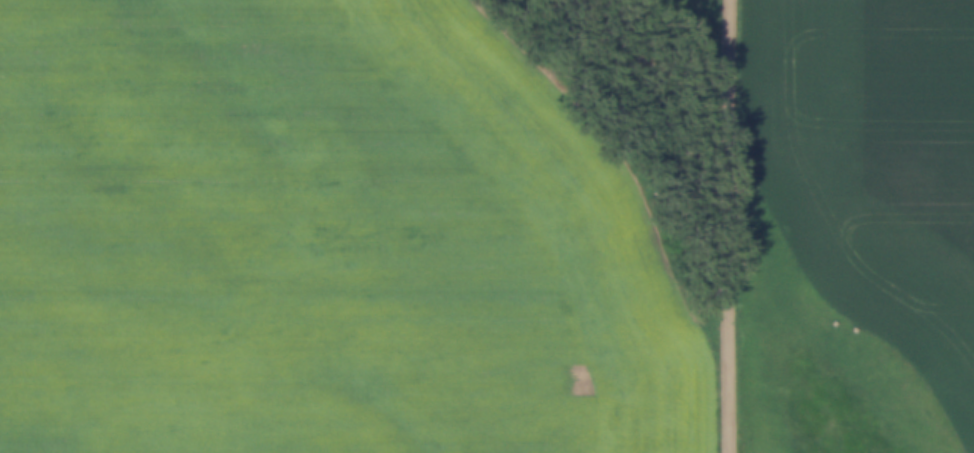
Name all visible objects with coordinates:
road: (727, 226)

